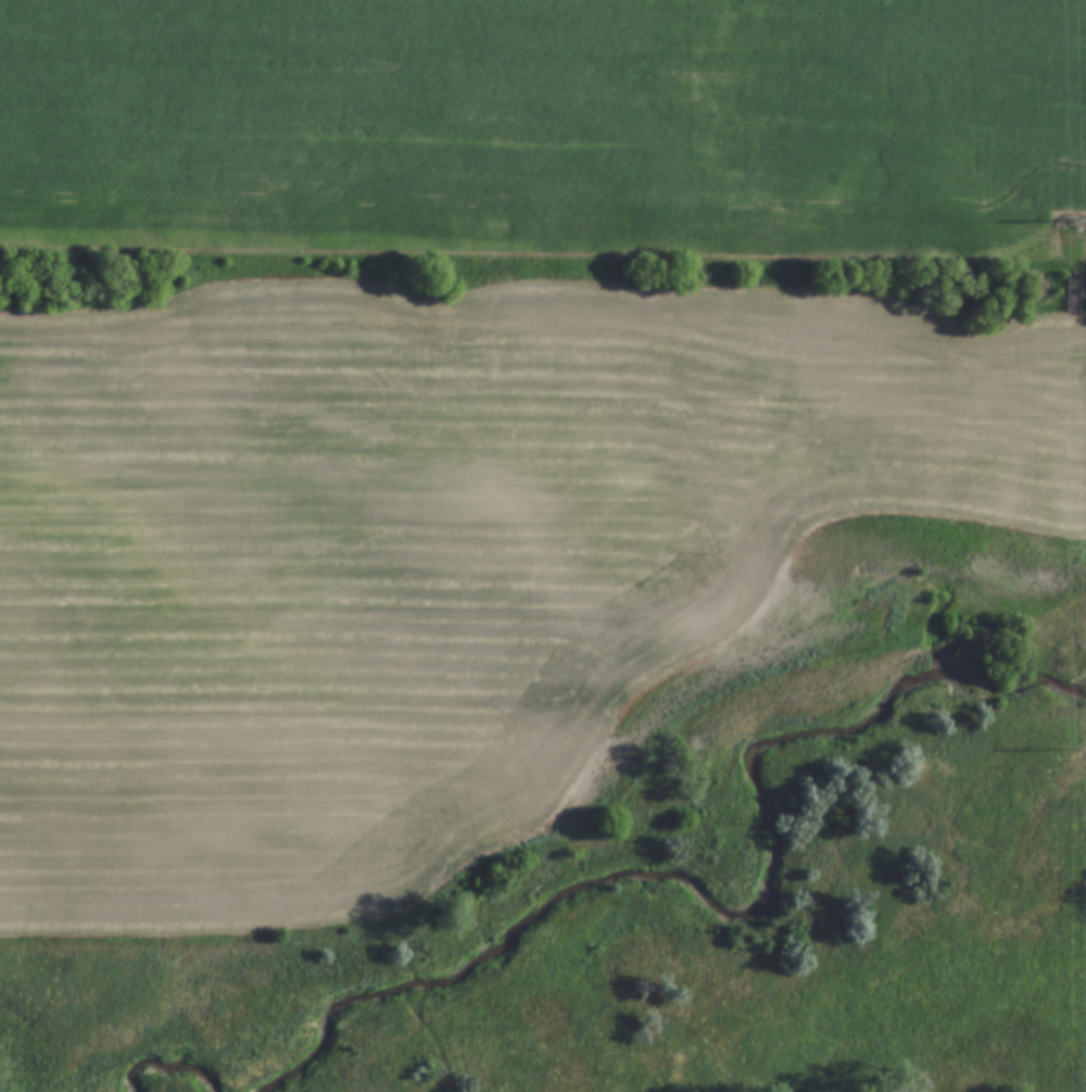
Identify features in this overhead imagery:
power tower: (1066, 219)
power tower: (1072, 745)

